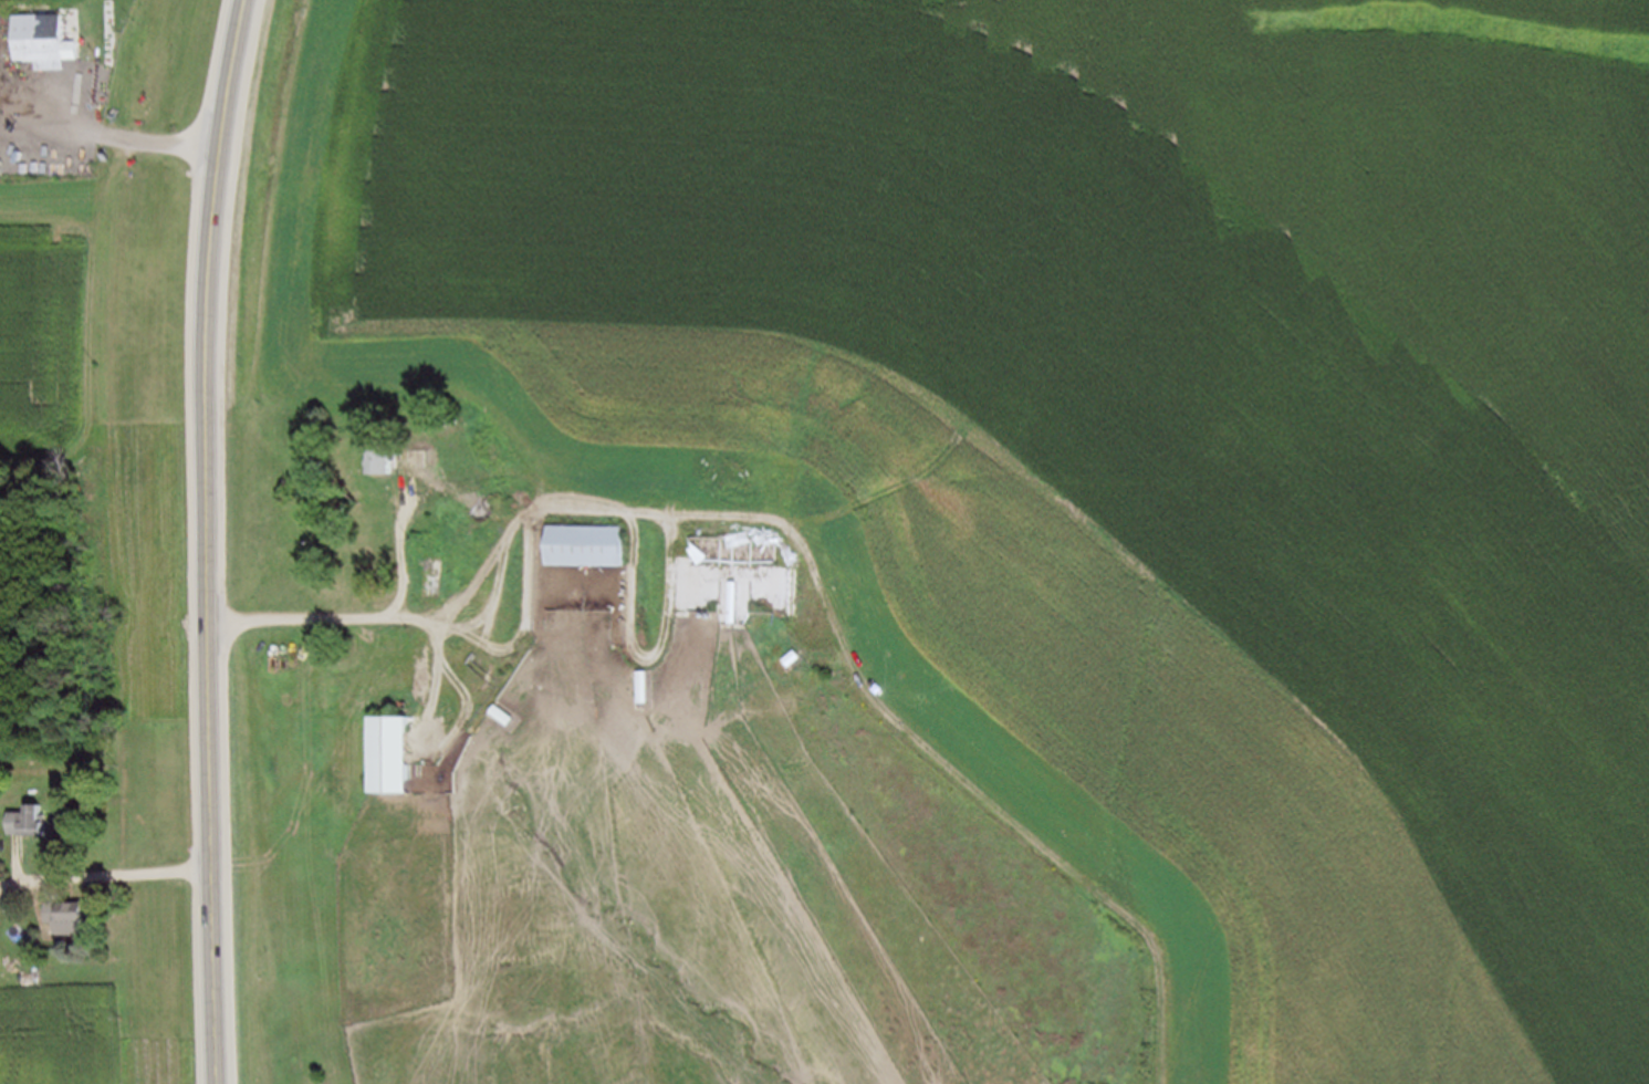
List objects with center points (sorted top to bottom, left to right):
building: (43, 38)
road: (140, 138)
building: (418, 456)
building: (387, 459)
road: (205, 540)
building: (586, 543)
building: (733, 549)
road: (363, 617)
road: (836, 628)
building: (395, 751)
building: (31, 820)
road: (104, 873)
building: (69, 915)

